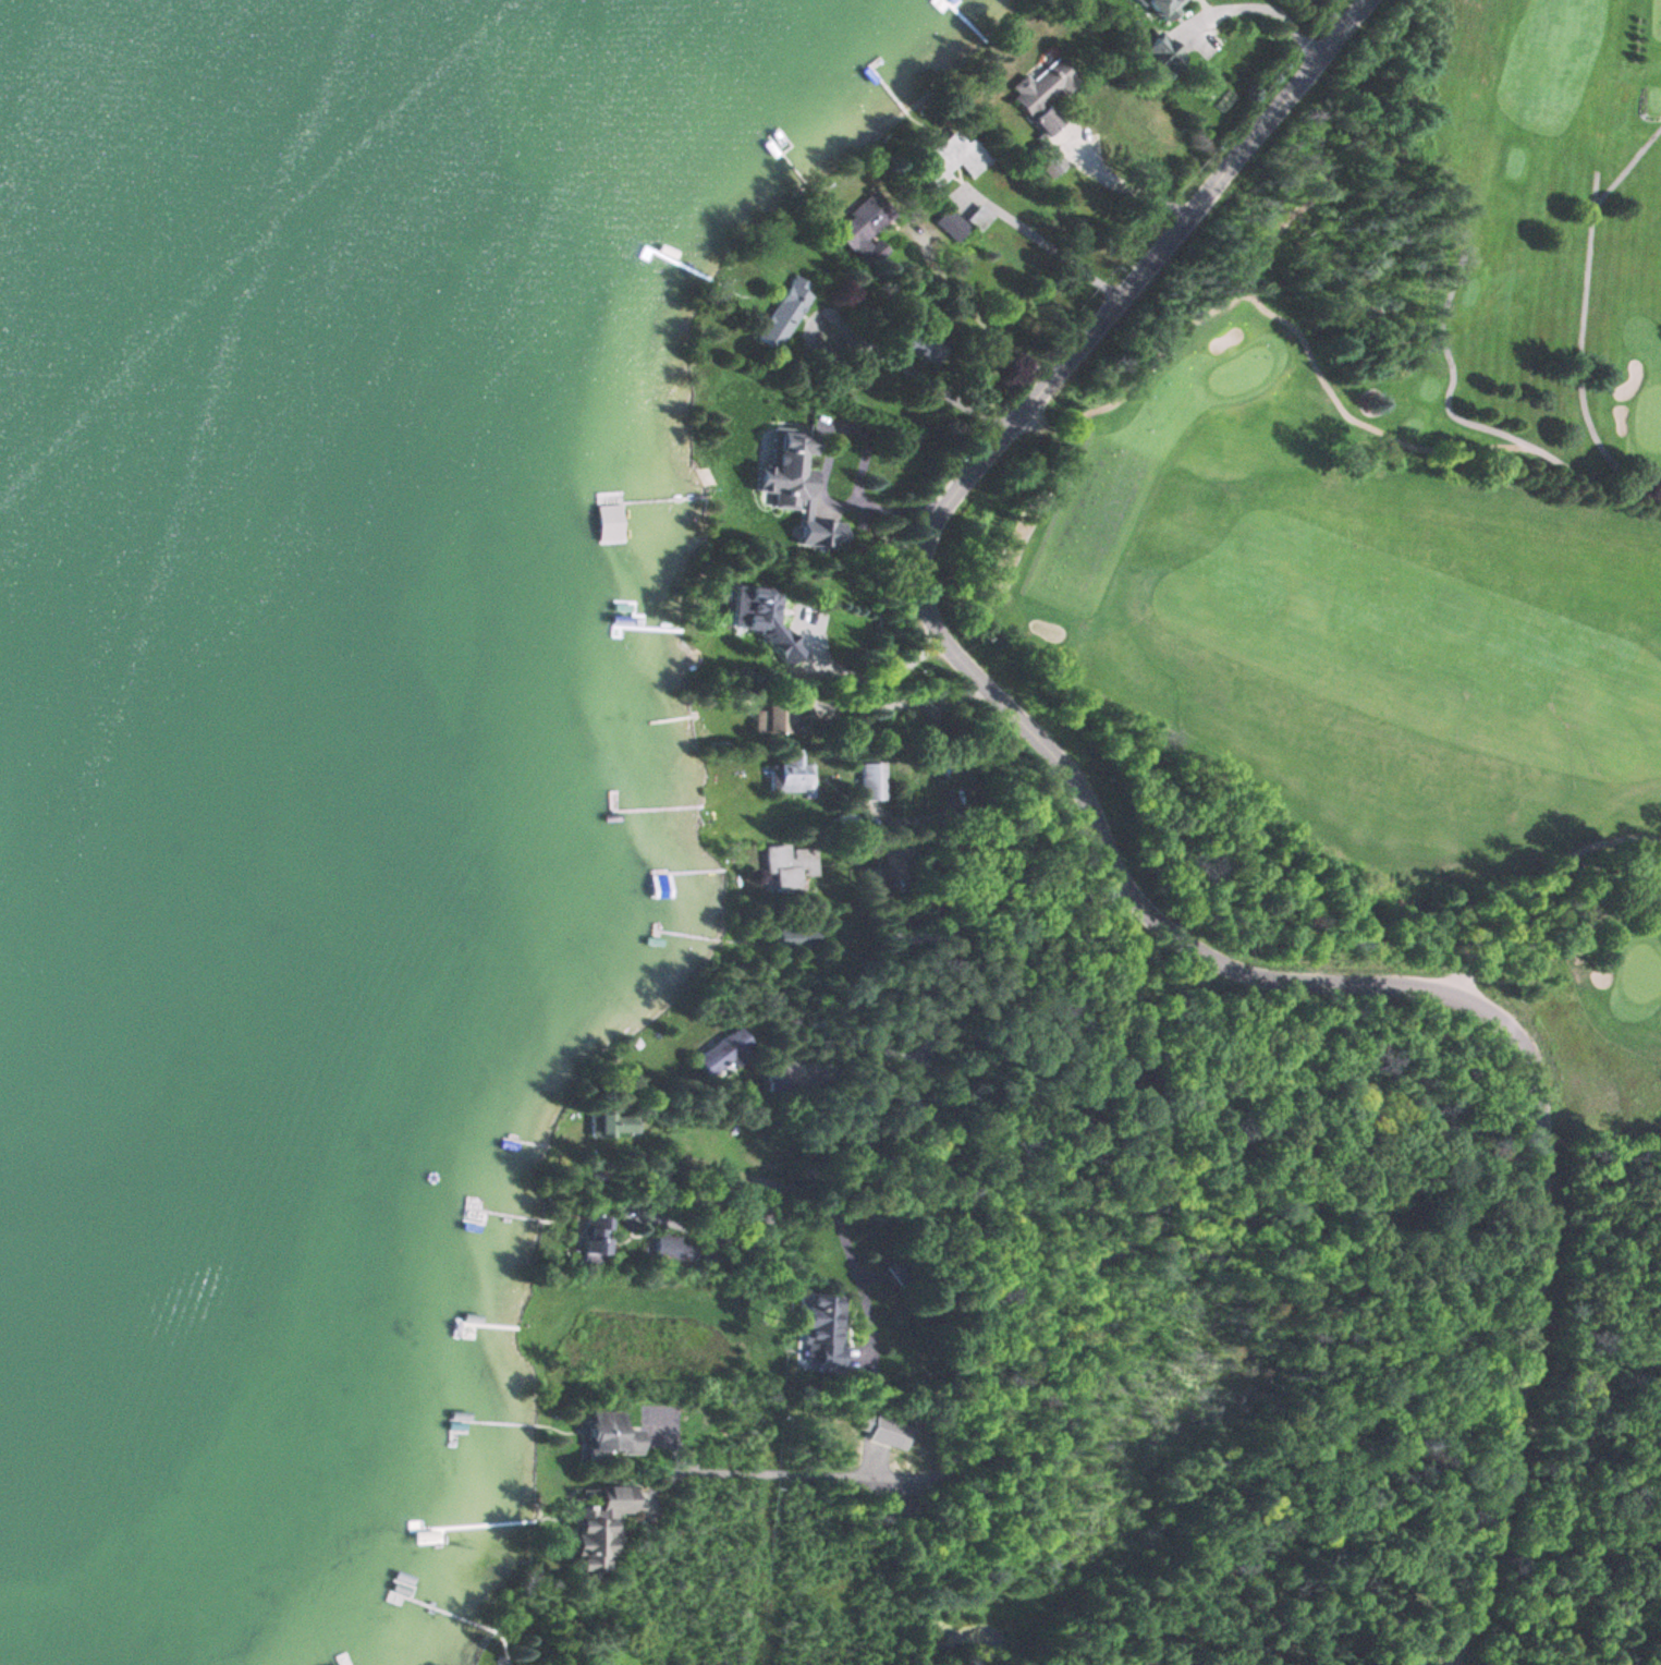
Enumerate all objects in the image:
building: (1162, 7)
building: (1162, 53)
building: (1041, 85)
building: (1047, 120)
building: (950, 158)
building: (977, 217)
building: (949, 223)
building: (863, 229)
building: (781, 315)
park: (1426, 449)
building: (782, 464)
building: (777, 646)
building: (775, 716)
building: (790, 774)
building: (787, 866)
road: (1116, 879)
building: (794, 937)
road: (945, 1014)
building: (723, 1053)
building: (611, 1123)
building: (595, 1239)
building: (822, 1329)
building: (887, 1432)
building: (612, 1434)
building: (601, 1529)
road: (1072, 1555)
building: (335, 1664)

